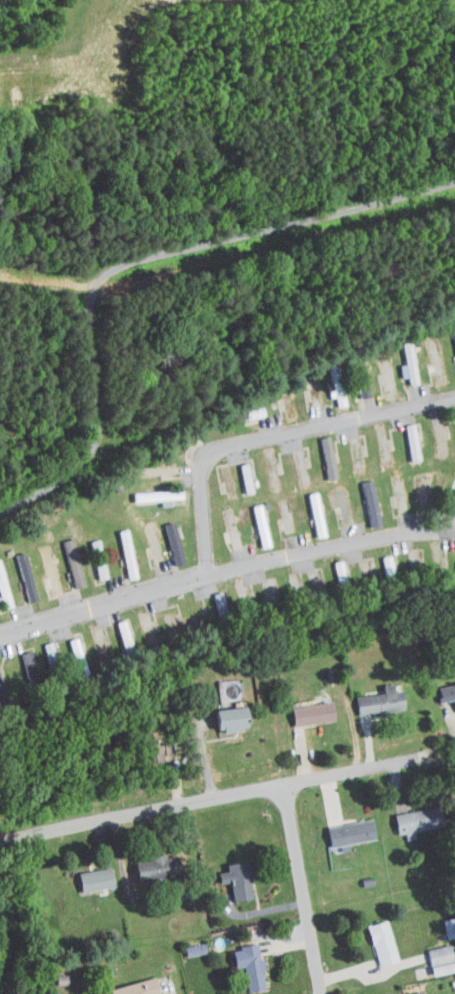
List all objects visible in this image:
building: (449, 341)
building: (399, 357)
building: (329, 390)
building: (238, 407)
building: (402, 435)
road: (274, 436)
building: (318, 451)
building: (235, 471)
road: (49, 487)
building: (147, 489)
building: (361, 496)
building: (306, 508)
building: (251, 519)
road: (451, 520)
building: (164, 537)
building: (117, 547)
building: (88, 553)
building: (63, 556)
building: (38, 558)
building: (452, 560)
building: (330, 566)
road: (224, 568)
building: (16, 570)
building: (0, 598)
building: (114, 629)
building: (18, 657)
building: (443, 689)
building: (369, 695)
building: (301, 707)
building: (219, 712)
building: (157, 742)
building: (142, 747)
road: (207, 797)
building: (453, 801)
building: (406, 814)
building: (340, 826)
building: (144, 861)
building: (84, 873)
building: (226, 874)
road: (305, 888)
building: (371, 937)
building: (182, 944)
building: (432, 954)
building: (242, 961)
building: (124, 985)
building: (401, 991)

